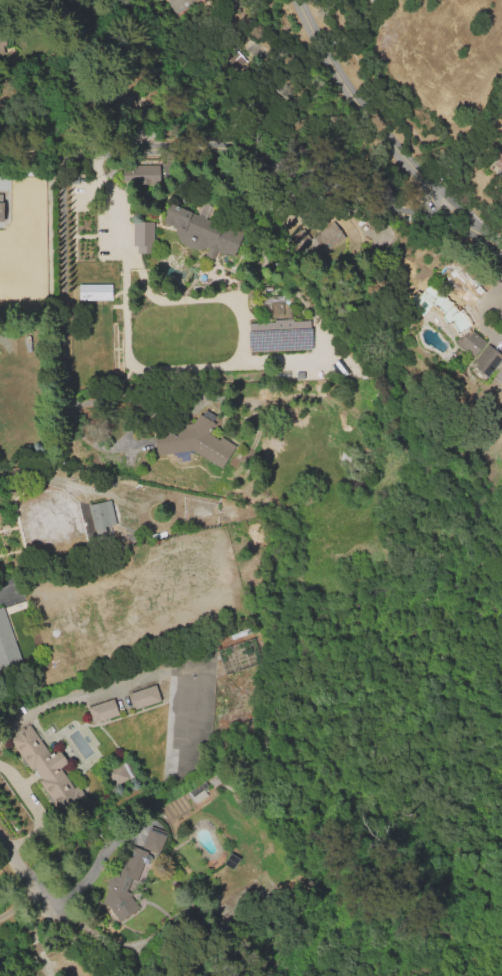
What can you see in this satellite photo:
building: (178, 4)
building: (1, 45)
road: (363, 107)
road: (261, 159)
building: (499, 167)
building: (143, 174)
building: (1, 207)
building: (196, 232)
building: (142, 238)
building: (315, 241)
building: (86, 244)
building: (94, 291)
building: (451, 321)
road: (63, 323)
building: (280, 340)
building: (484, 364)
building: (194, 440)
building: (351, 460)
building: (103, 522)
building: (78, 611)
building: (5, 634)
building: (184, 658)
building: (190, 671)
building: (143, 698)
building: (102, 712)
building: (47, 770)
building: (120, 775)
building: (199, 793)
road: (35, 808)
building: (152, 838)
road: (27, 880)
building: (122, 882)
road: (33, 937)

